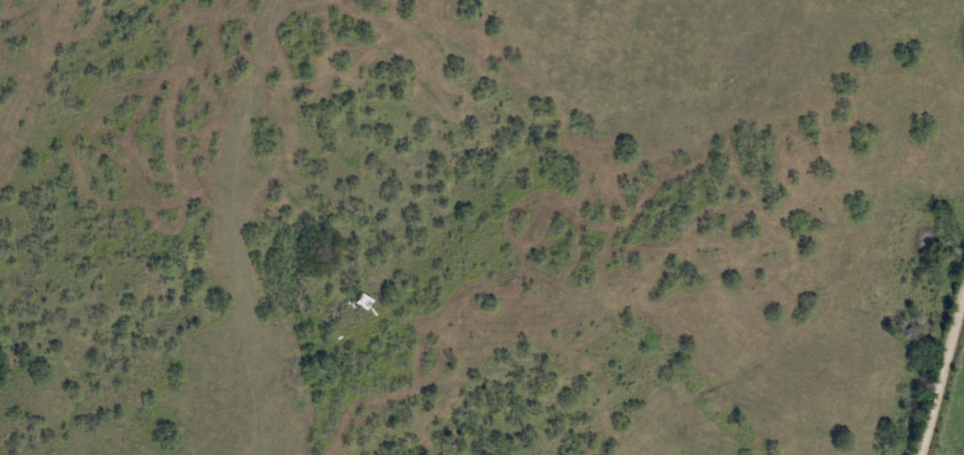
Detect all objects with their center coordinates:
building: (289, 366)
road: (943, 382)

